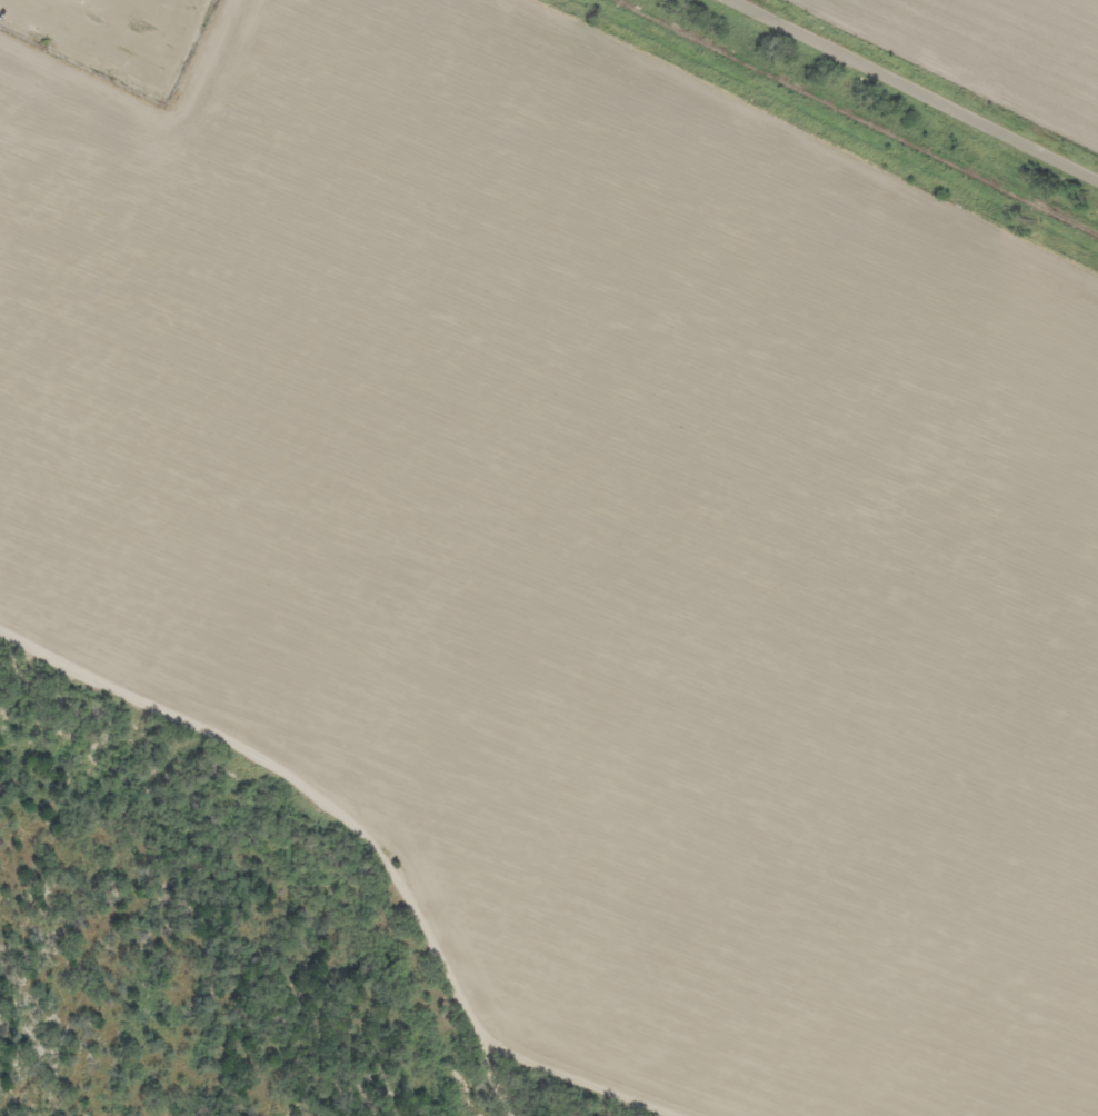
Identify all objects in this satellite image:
road: (917, 87)
railway: (855, 119)

